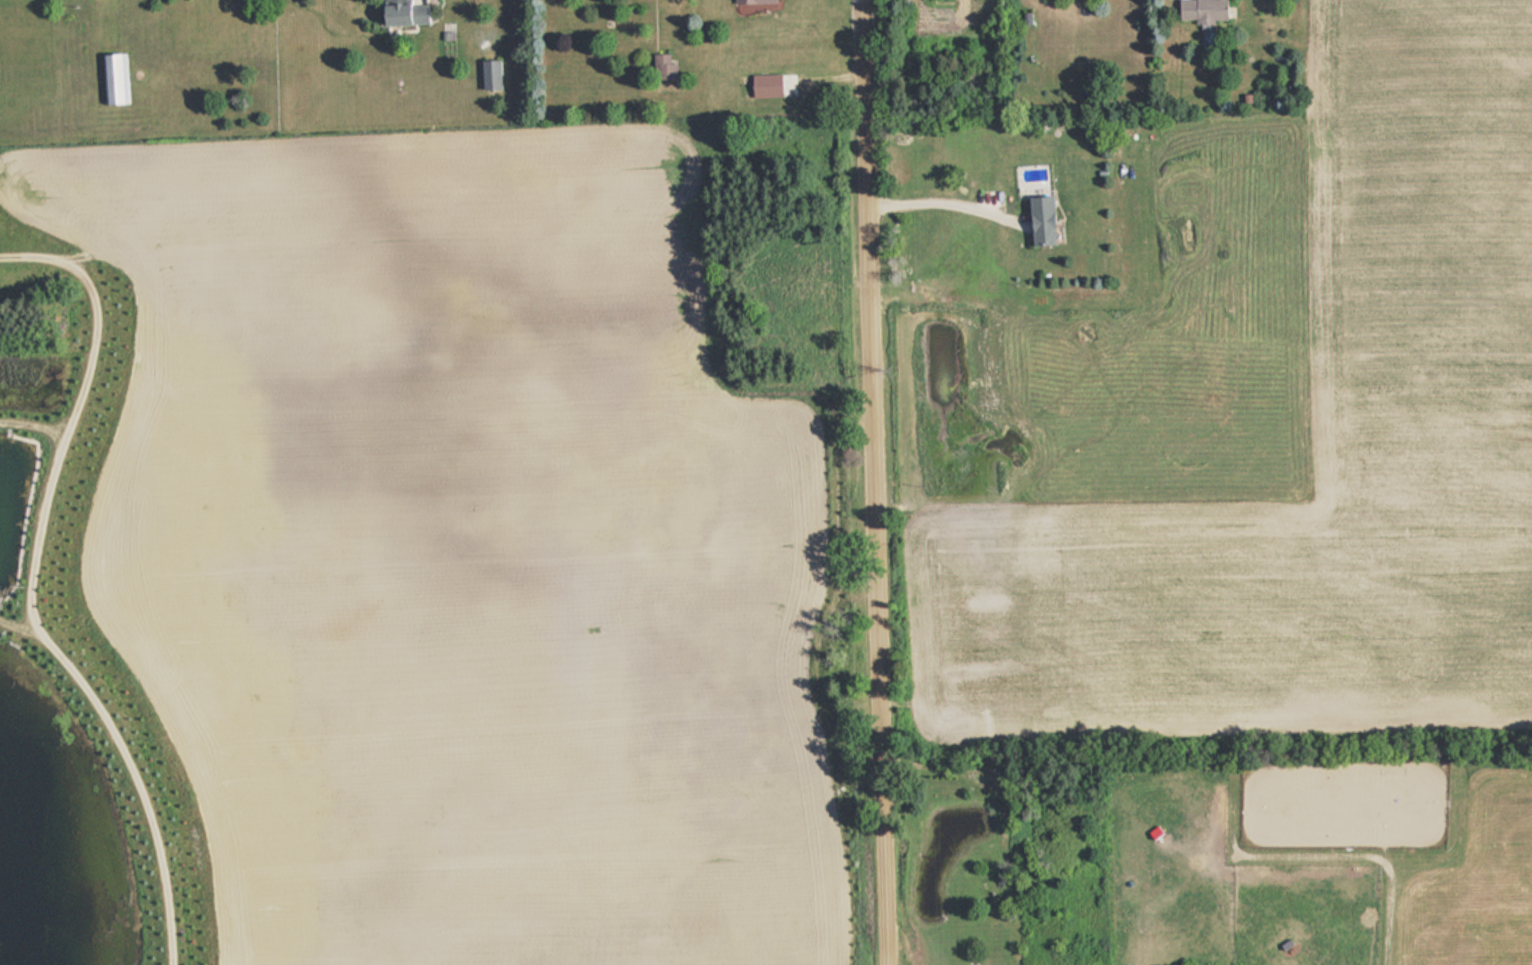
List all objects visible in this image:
building: (753, 1)
road: (858, 2)
building: (1199, 10)
building: (402, 13)
building: (663, 67)
building: (490, 74)
building: (114, 78)
building: (764, 85)
building: (1039, 220)
building: (710, 460)
road: (872, 485)
building: (816, 549)
building: (723, 710)
building: (711, 750)

